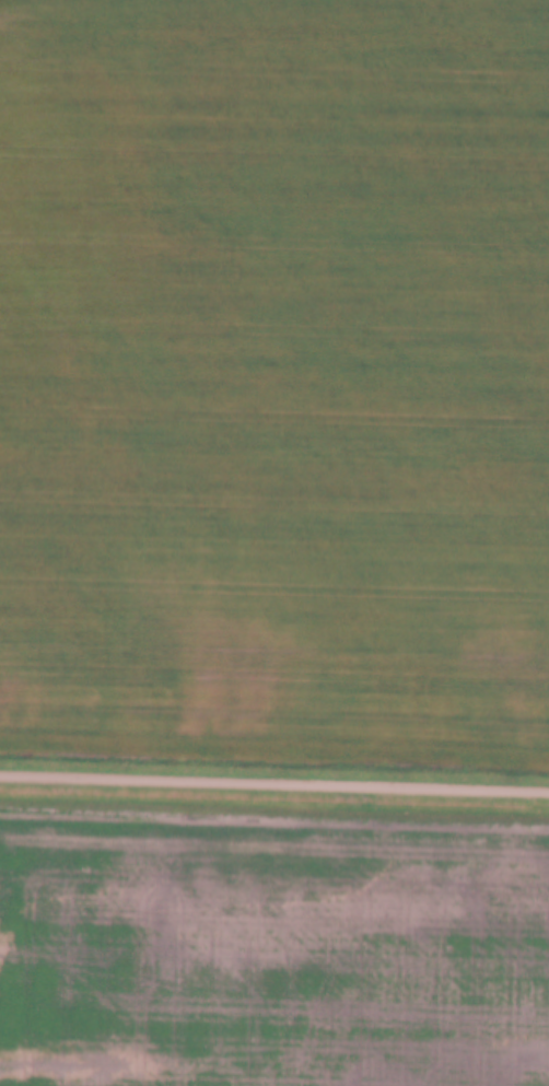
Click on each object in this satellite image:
road: (274, 785)

